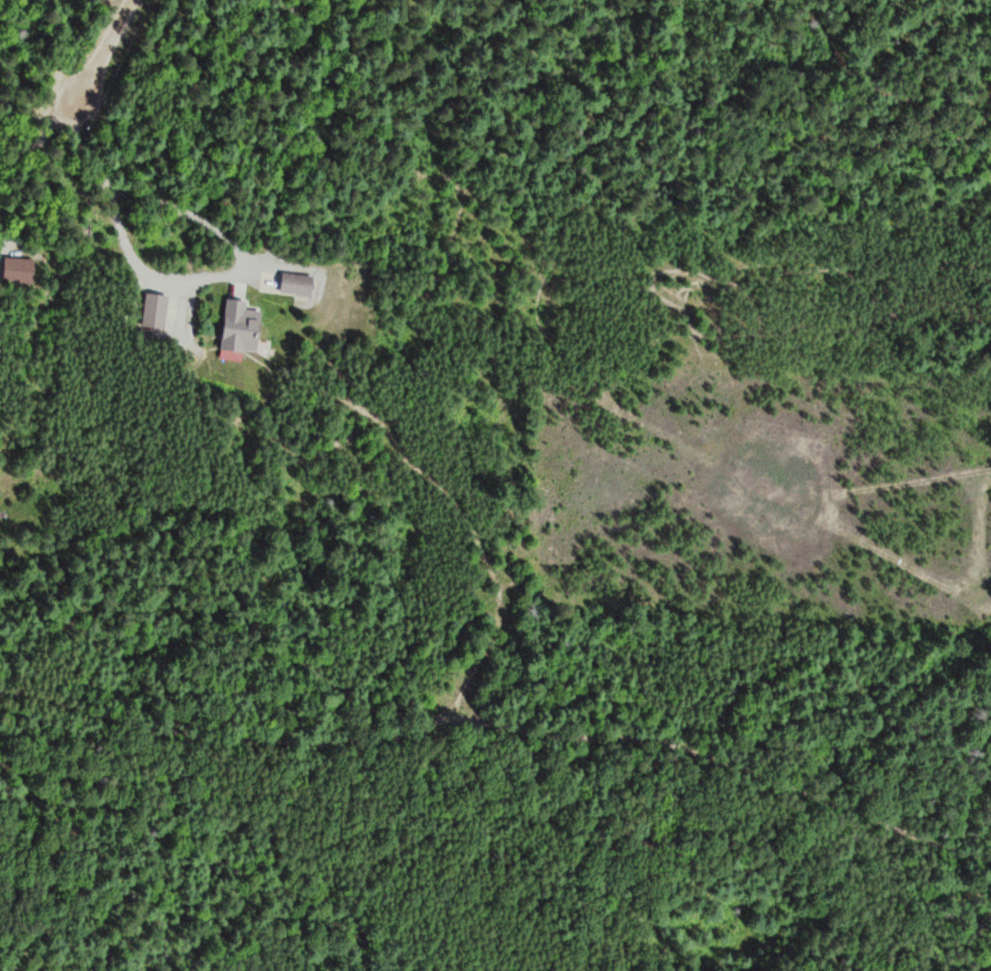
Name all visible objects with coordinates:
road: (79, 93)
building: (20, 268)
road: (1, 270)
road: (186, 278)
building: (298, 281)
building: (155, 308)
building: (250, 326)
road: (501, 721)
road: (755, 884)
road: (310, 927)

